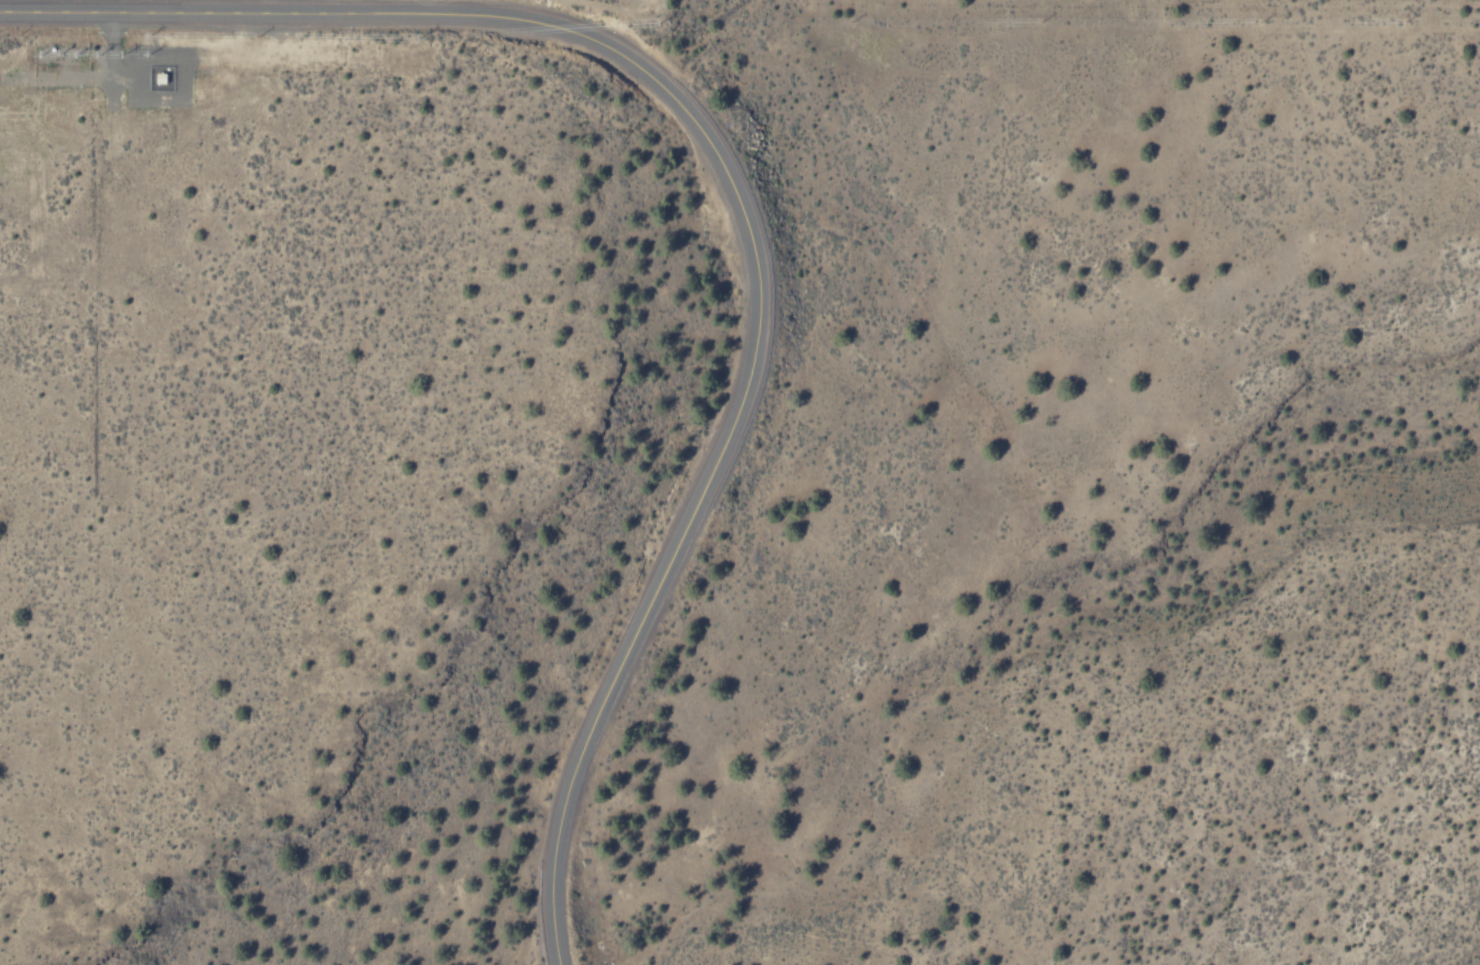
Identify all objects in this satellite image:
road: (734, 196)

